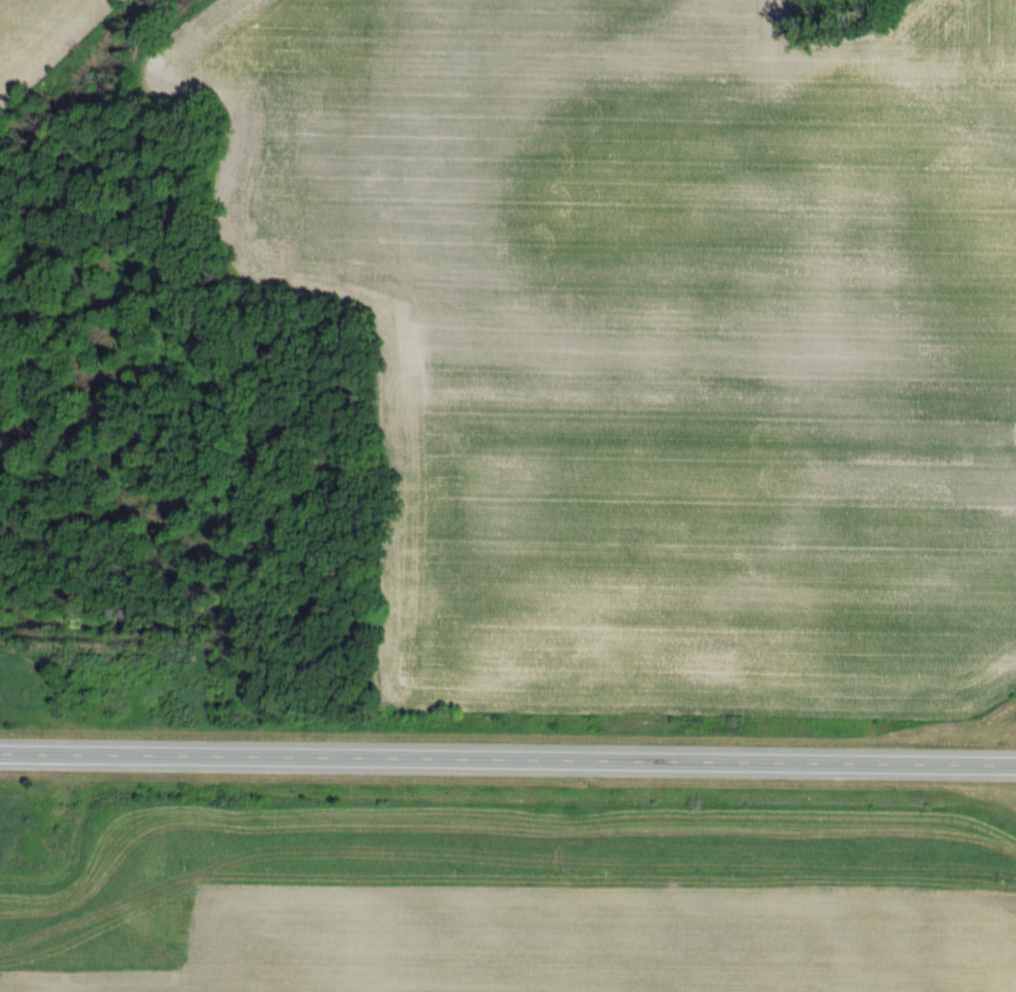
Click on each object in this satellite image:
road: (508, 757)

